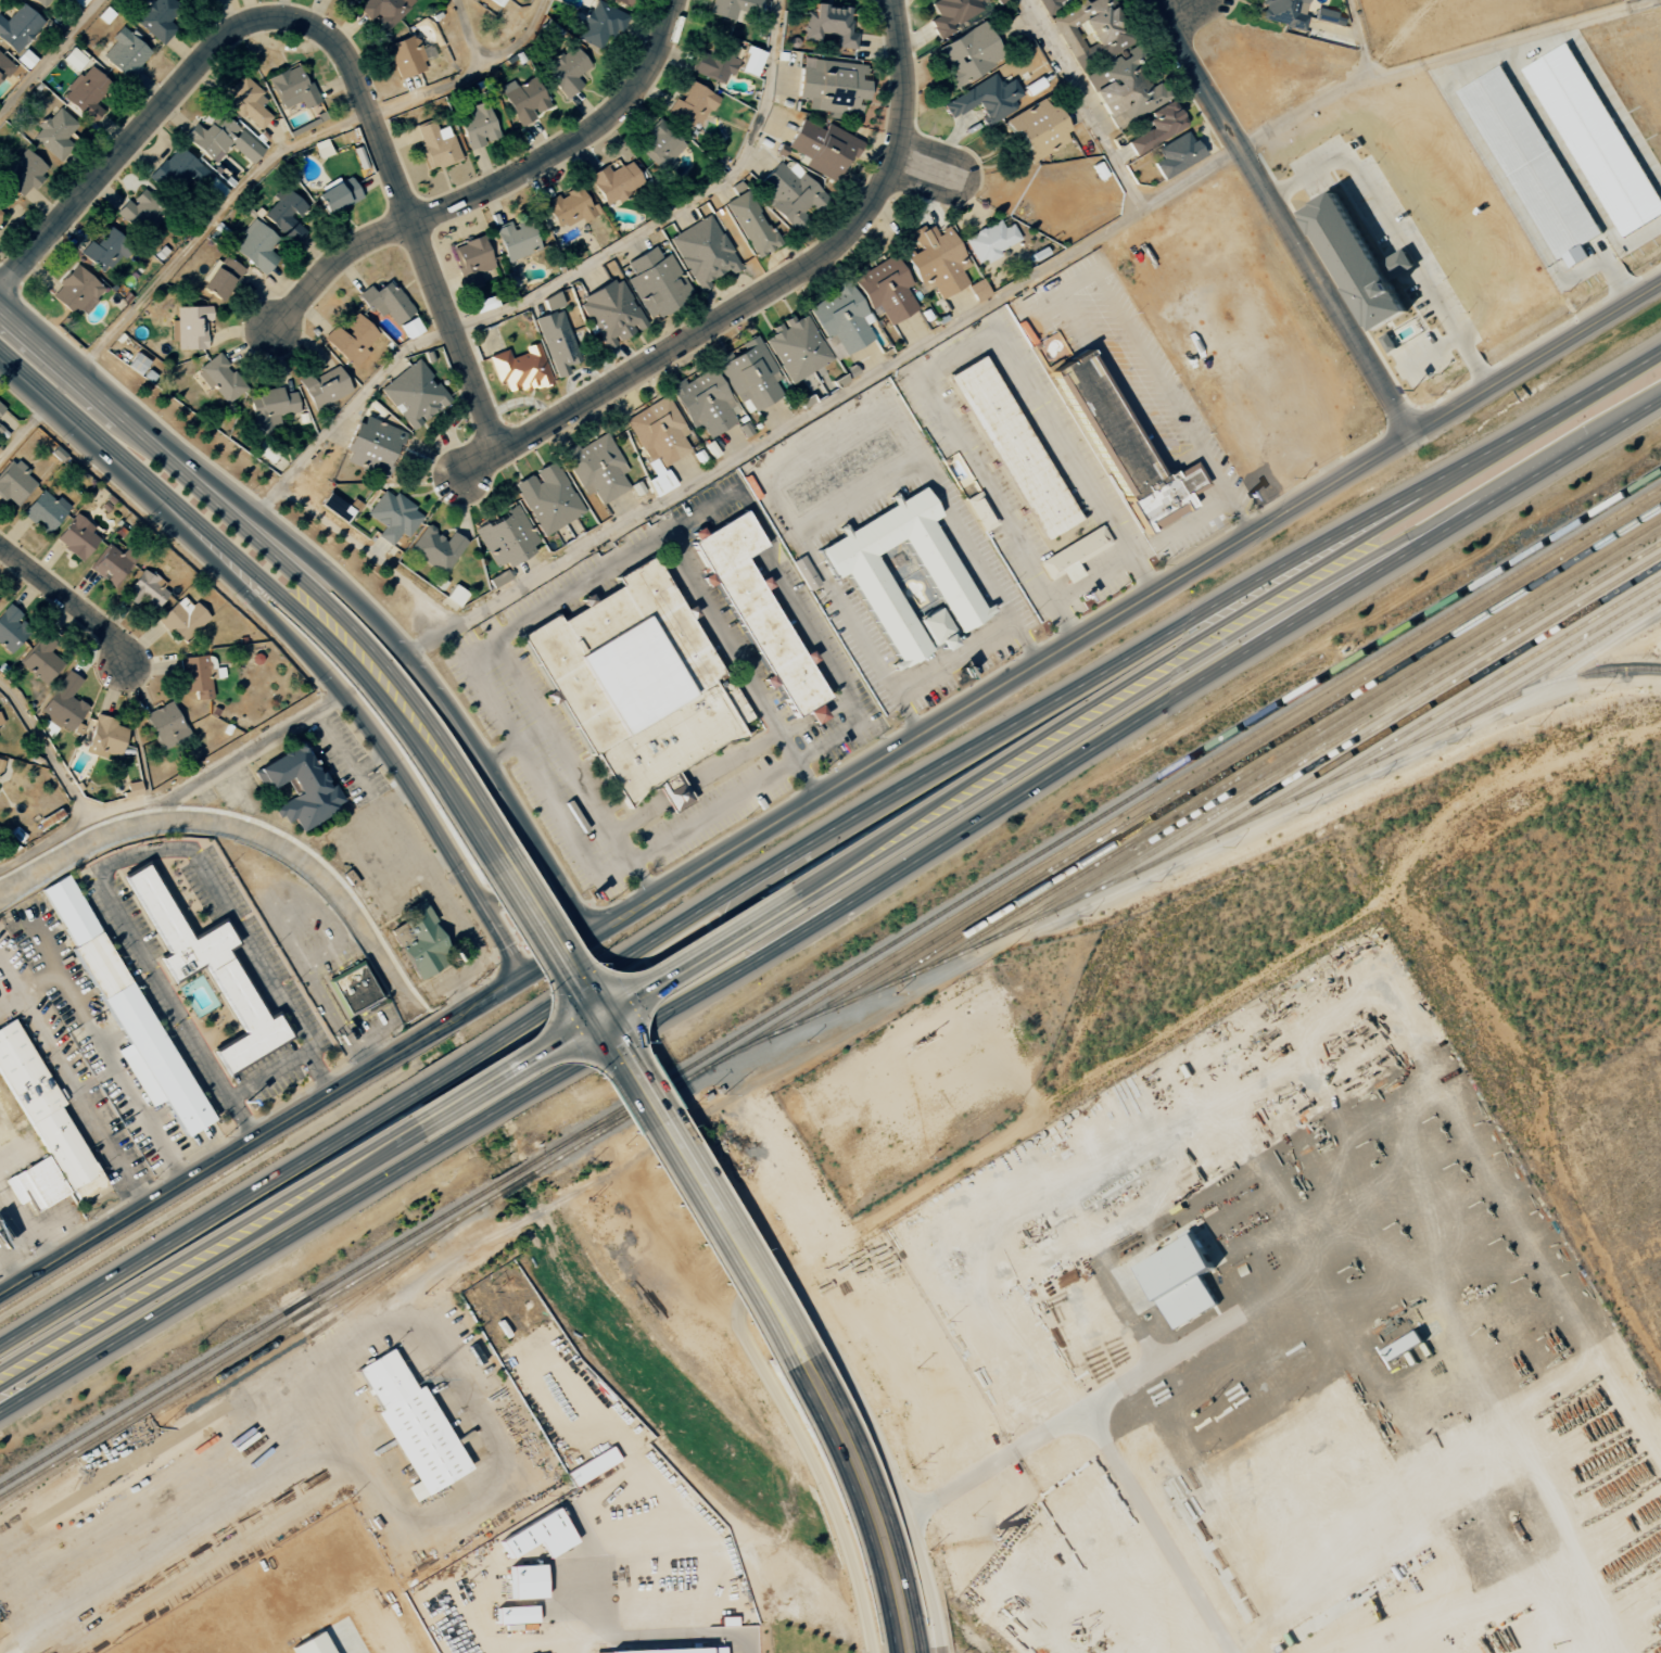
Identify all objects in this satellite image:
building: (54, 0)
building: (352, 0)
building: (497, 1)
building: (623, 1)
building: (999, 1)
building: (41, 2)
building: (79, 2)
building: (734, 9)
building: (384, 10)
building: (954, 12)
building: (1285, 12)
building: (157, 18)
building: (1090, 22)
building: (600, 24)
building: (829, 25)
building: (18, 27)
road: (329, 39)
building: (125, 53)
road: (48, 54)
building: (967, 54)
building: (408, 55)
building: (74, 59)
road: (491, 60)
building: (751, 61)
building: (715, 63)
building: (4, 66)
building: (567, 71)
building: (833, 86)
building: (292, 88)
building: (1128, 88)
building: (87, 92)
road: (427, 94)
building: (986, 98)
building: (524, 99)
building: (248, 103)
building: (692, 105)
building: (482, 124)
building: (1157, 127)
building: (1037, 128)
building: (55, 132)
building: (223, 139)
building: (1596, 139)
building: (436, 144)
building: (661, 145)
building: (823, 147)
building: (321, 148)
building: (1177, 154)
building: (1530, 162)
road: (925, 169)
building: (177, 171)
building: (22, 174)
road: (1191, 177)
building: (616, 181)
road: (495, 183)
building: (297, 191)
building: (338, 193)
building: (570, 207)
road: (674, 211)
building: (139, 212)
building: (0, 213)
building: (287, 216)
road: (1282, 217)
road: (205, 224)
building: (751, 224)
road: (1400, 236)
building: (516, 239)
building: (990, 241)
building: (256, 246)
building: (103, 250)
building: (703, 252)
building: (1405, 256)
building: (473, 260)
building: (939, 260)
building: (1358, 260)
building: (221, 278)
road: (1078, 280)
building: (658, 282)
building: (887, 289)
building: (76, 290)
building: (978, 290)
road: (762, 296)
building: (553, 301)
building: (386, 302)
building: (484, 303)
building: (612, 313)
building: (844, 319)
building: (190, 327)
building: (410, 327)
road: (23, 329)
building: (351, 340)
building: (557, 341)
building: (1390, 342)
building: (798, 346)
road: (951, 352)
road: (1433, 354)
road: (5, 358)
building: (137, 364)
road: (1152, 367)
building: (520, 369)
road: (68, 371)
road: (877, 371)
road: (1114, 374)
building: (751, 376)
building: (220, 379)
building: (325, 386)
building: (414, 394)
building: (706, 402)
building: (1, 407)
building: (270, 407)
road: (347, 410)
building: (659, 440)
building: (372, 445)
building: (1010, 446)
building: (1124, 446)
road: (1178, 461)
building: (598, 469)
building: (14, 482)
road: (156, 487)
road: (205, 493)
road: (1226, 493)
road: (858, 496)
building: (548, 498)
road: (1423, 499)
road: (1465, 506)
building: (337, 507)
building: (981, 509)
building: (45, 510)
building: (393, 517)
road: (277, 529)
road: (179, 533)
building: (506, 536)
building: (77, 537)
building: (436, 548)
road: (368, 552)
building: (1073, 554)
building: (114, 563)
road: (1090, 580)
road: (576, 583)
building: (145, 589)
building: (875, 590)
road: (68, 596)
building: (454, 597)
road: (787, 598)
building: (757, 608)
building: (183, 619)
building: (936, 627)
building: (11, 628)
road: (1055, 651)
road: (953, 656)
building: (41, 659)
railway: (1525, 670)
building: (199, 675)
railway: (1561, 679)
building: (639, 683)
road: (478, 684)
railway: (1484, 685)
road: (1061, 696)
railway: (1443, 697)
building: (63, 704)
railway: (1402, 710)
road: (411, 720)
building: (0, 721)
railway: (1364, 722)
building: (165, 725)
road: (1065, 728)
railway: (1324, 735)
building: (105, 737)
road: (512, 743)
railway: (1289, 746)
road: (1080, 754)
railway: (1255, 754)
road: (369, 760)
building: (0, 761)
railway: (1223, 763)
building: (300, 786)
building: (134, 788)
road: (395, 797)
road: (711, 808)
road: (512, 816)
railway: (1094, 817)
road: (562, 826)
railway: (1096, 829)
road: (440, 837)
railway: (1197, 842)
road: (419, 852)
road: (439, 857)
road: (110, 863)
road: (523, 883)
building: (68, 907)
road: (755, 933)
road: (1013, 939)
building: (423, 946)
building: (206, 967)
building: (353, 989)
road: (322, 1002)
road: (600, 1013)
traffic signals: (595, 1017)
building: (138, 1032)
road: (430, 1032)
road: (446, 1072)
road: (137, 1108)
road: (649, 1108)
building: (45, 1112)
road: (478, 1119)
railway: (611, 1119)
road: (111, 1152)
road: (204, 1167)
railway: (511, 1173)
railway: (516, 1183)
building: (36, 1184)
road: (211, 1216)
railway: (436, 1235)
road: (205, 1251)
road: (228, 1271)
building: (1182, 1281)
road: (773, 1285)
railway: (246, 1334)
railway: (282, 1338)
railway: (297, 1343)
railway: (249, 1345)
road: (1073, 1422)
building: (411, 1425)
building: (593, 1466)
railway: (38, 1487)
road: (870, 1502)
road: (1167, 1530)
building: (540, 1536)
building: (527, 1581)
building: (517, 1614)
building: (313, 1644)
building: (679, 1650)

